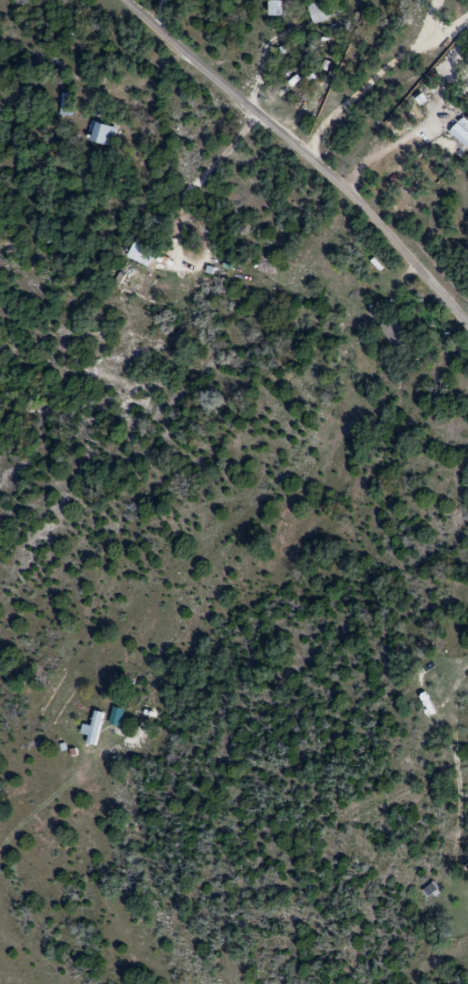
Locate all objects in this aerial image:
building: (271, 10)
building: (316, 14)
road: (456, 17)
road: (461, 29)
road: (368, 83)
building: (67, 105)
building: (101, 135)
road: (299, 154)
building: (393, 334)
building: (92, 728)
building: (431, 890)

